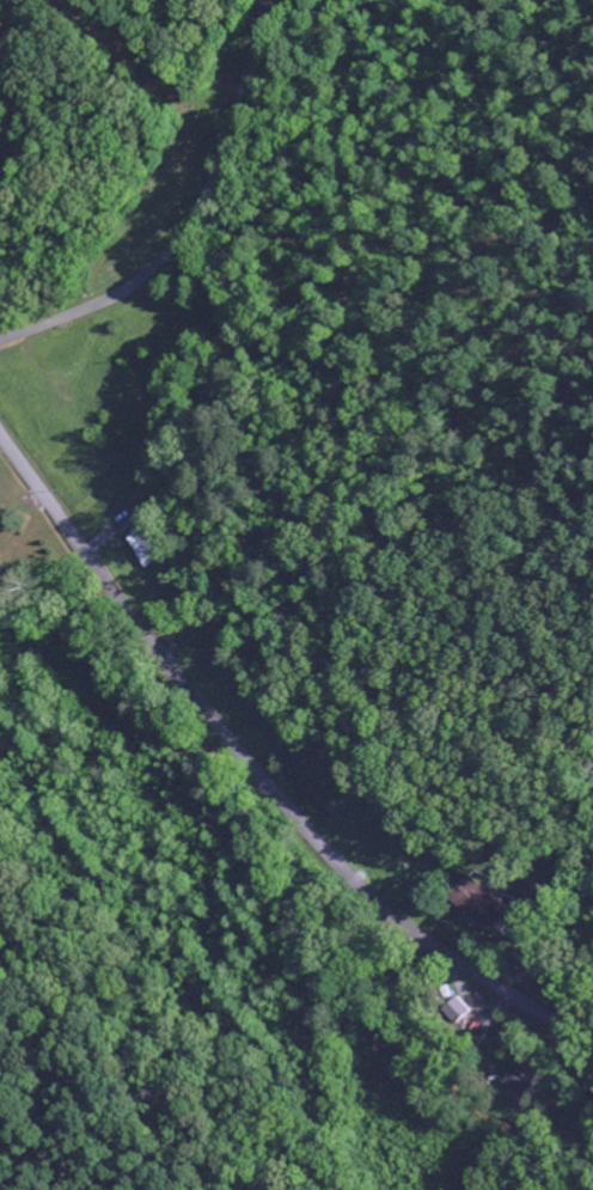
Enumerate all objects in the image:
road: (36, 209)
road: (191, 220)
road: (261, 776)
building: (482, 904)

